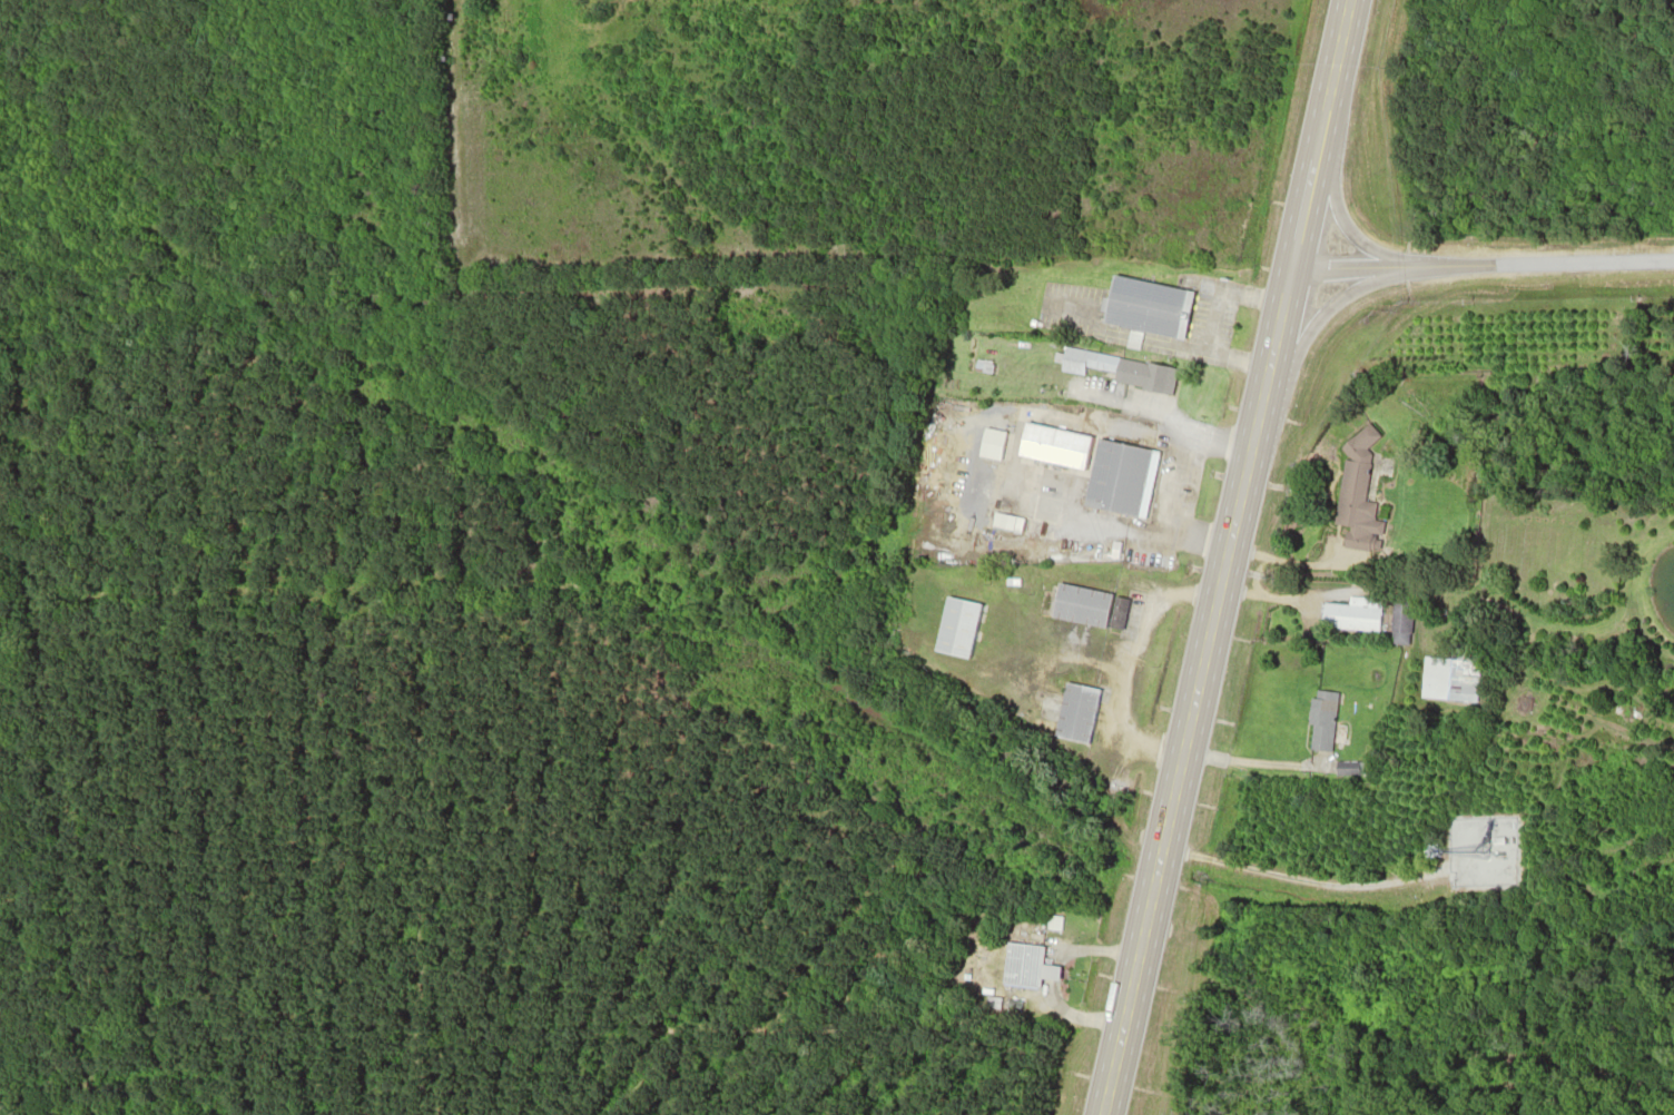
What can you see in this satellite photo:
road: (1326, 78)
road: (1297, 211)
road: (1341, 225)
road: (1479, 264)
building: (1141, 305)
road: (1321, 309)
building: (1114, 369)
building: (1114, 476)
building: (1353, 485)
building: (1080, 604)
building: (1116, 612)
building: (1348, 614)
building: (956, 625)
building: (1445, 678)
road: (1193, 690)
building: (1074, 710)
building: (1320, 721)
building: (1345, 769)
building: (1494, 842)
building: (1020, 964)
road: (849, 1072)

